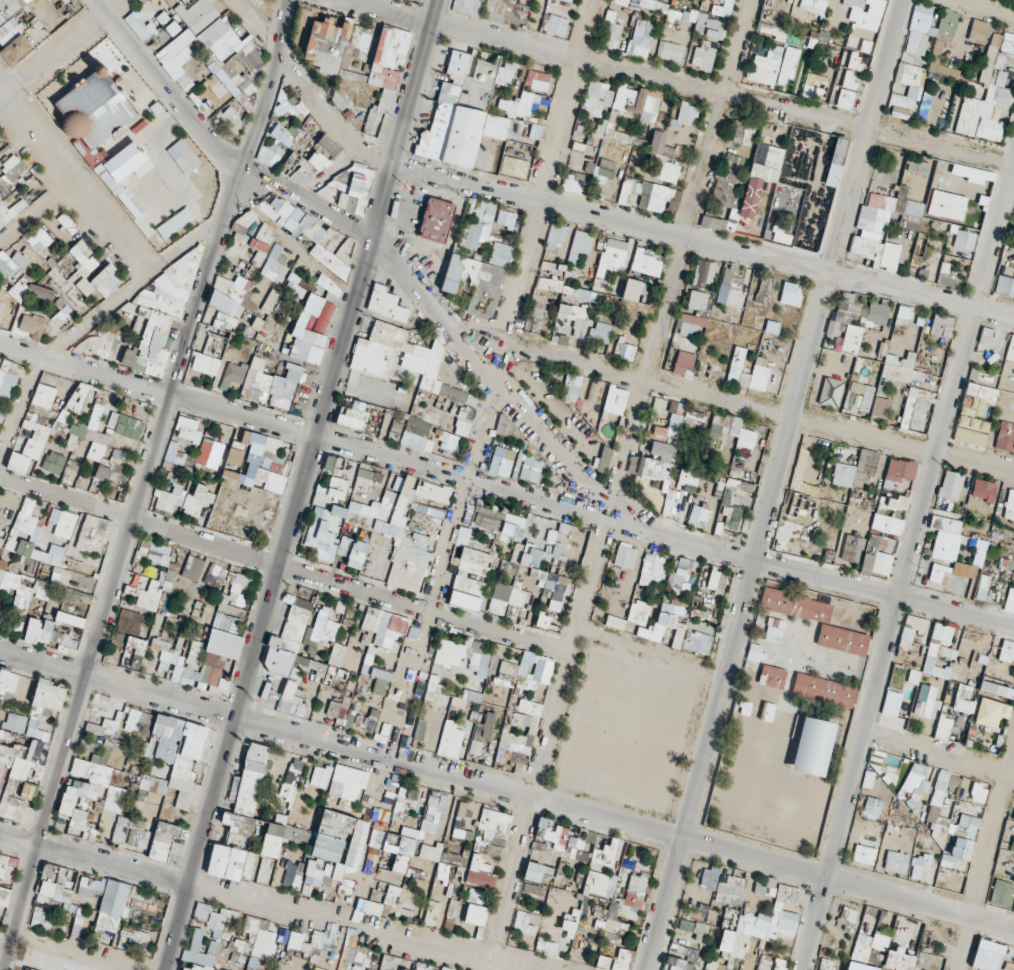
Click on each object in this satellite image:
park: (629, 731)

